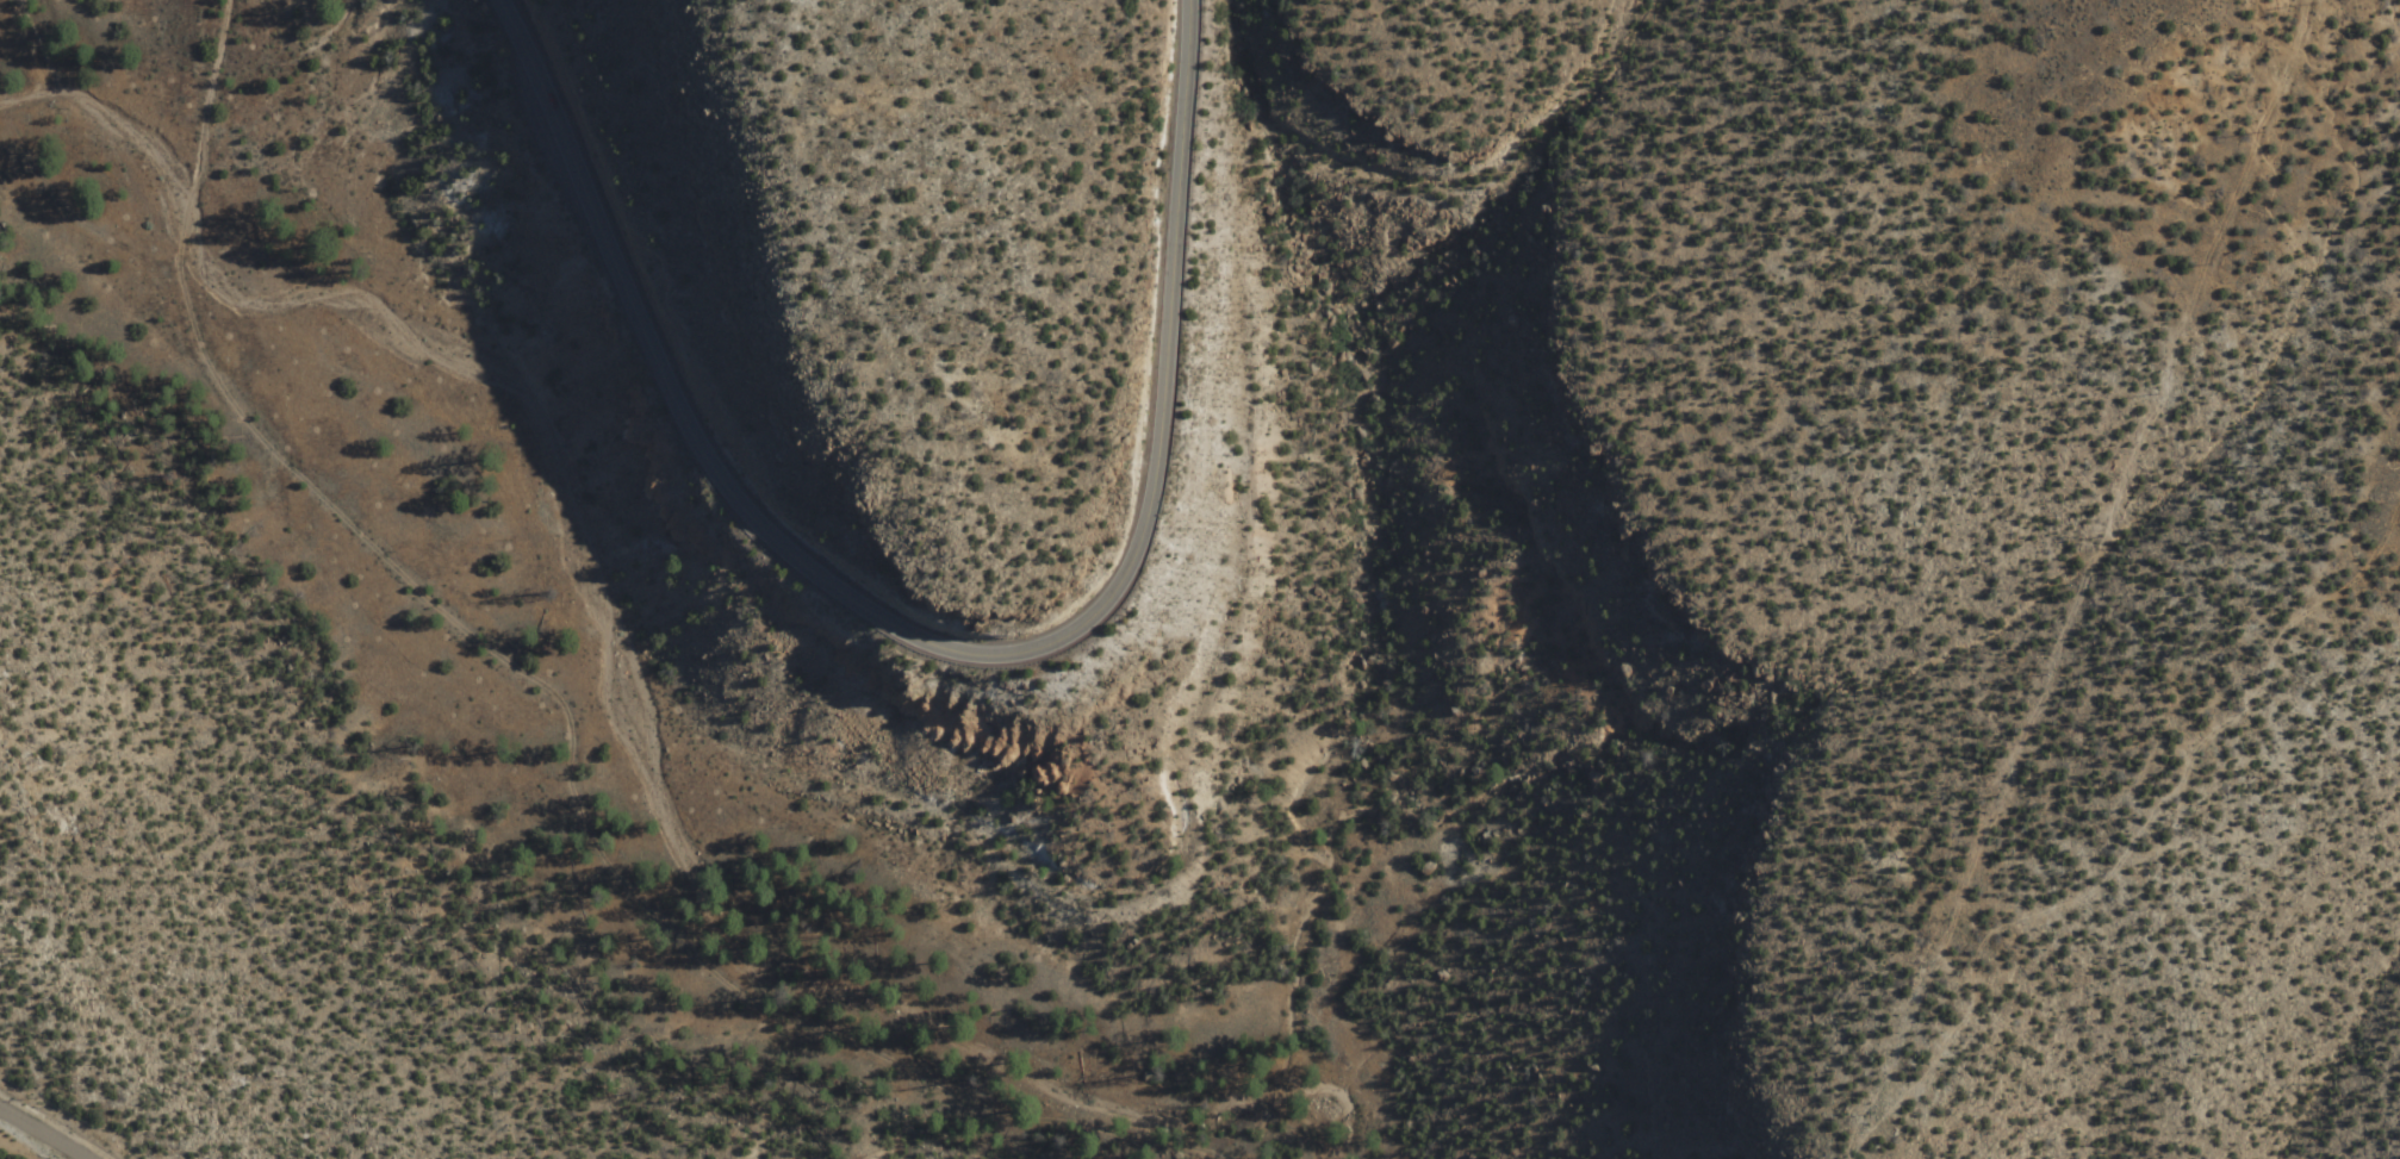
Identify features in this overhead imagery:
road: (2393, 20)
road: (2396, 48)
road: (933, 647)
road: (570, 691)
road: (2128, 840)
road: (46, 1129)
road: (1230, 1149)

